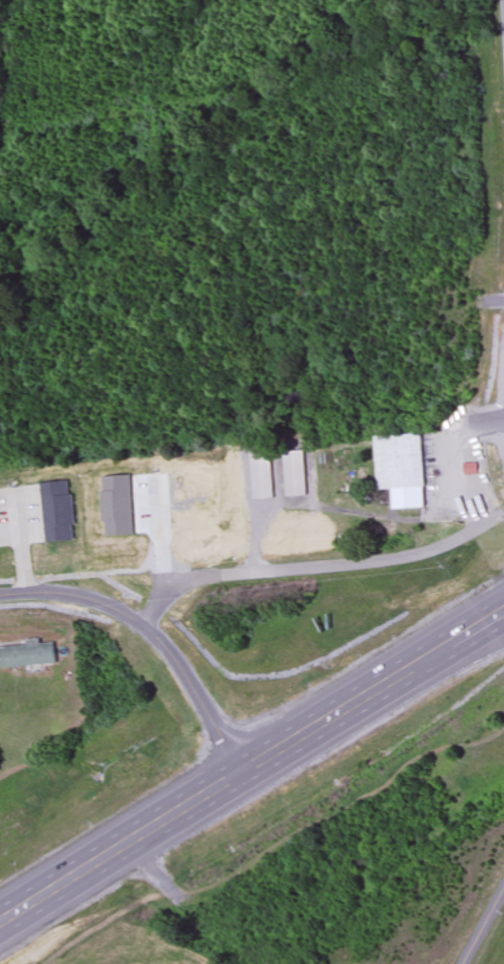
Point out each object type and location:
building: (486, 457)
building: (402, 462)
building: (471, 471)
building: (296, 475)
building: (264, 479)
road: (315, 568)
road: (152, 638)
building: (28, 654)
road: (252, 768)
road: (482, 925)

